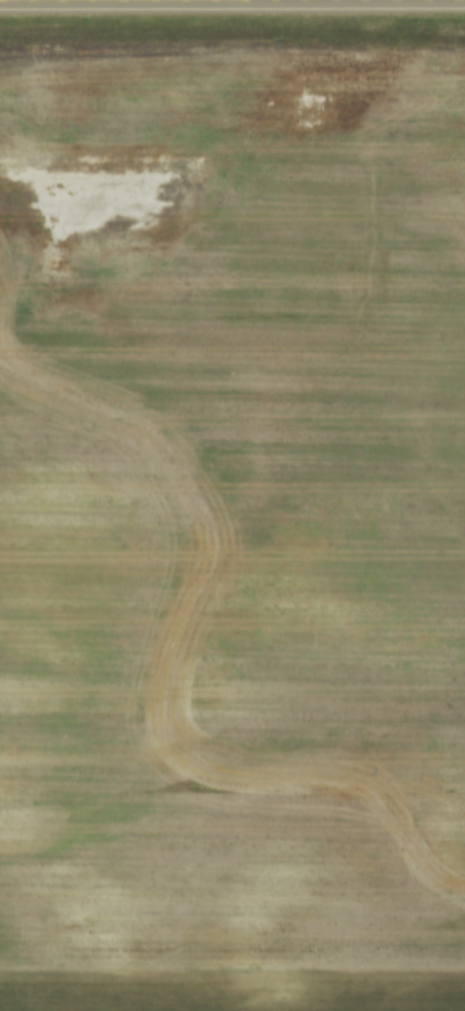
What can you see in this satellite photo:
road: (232, 3)

